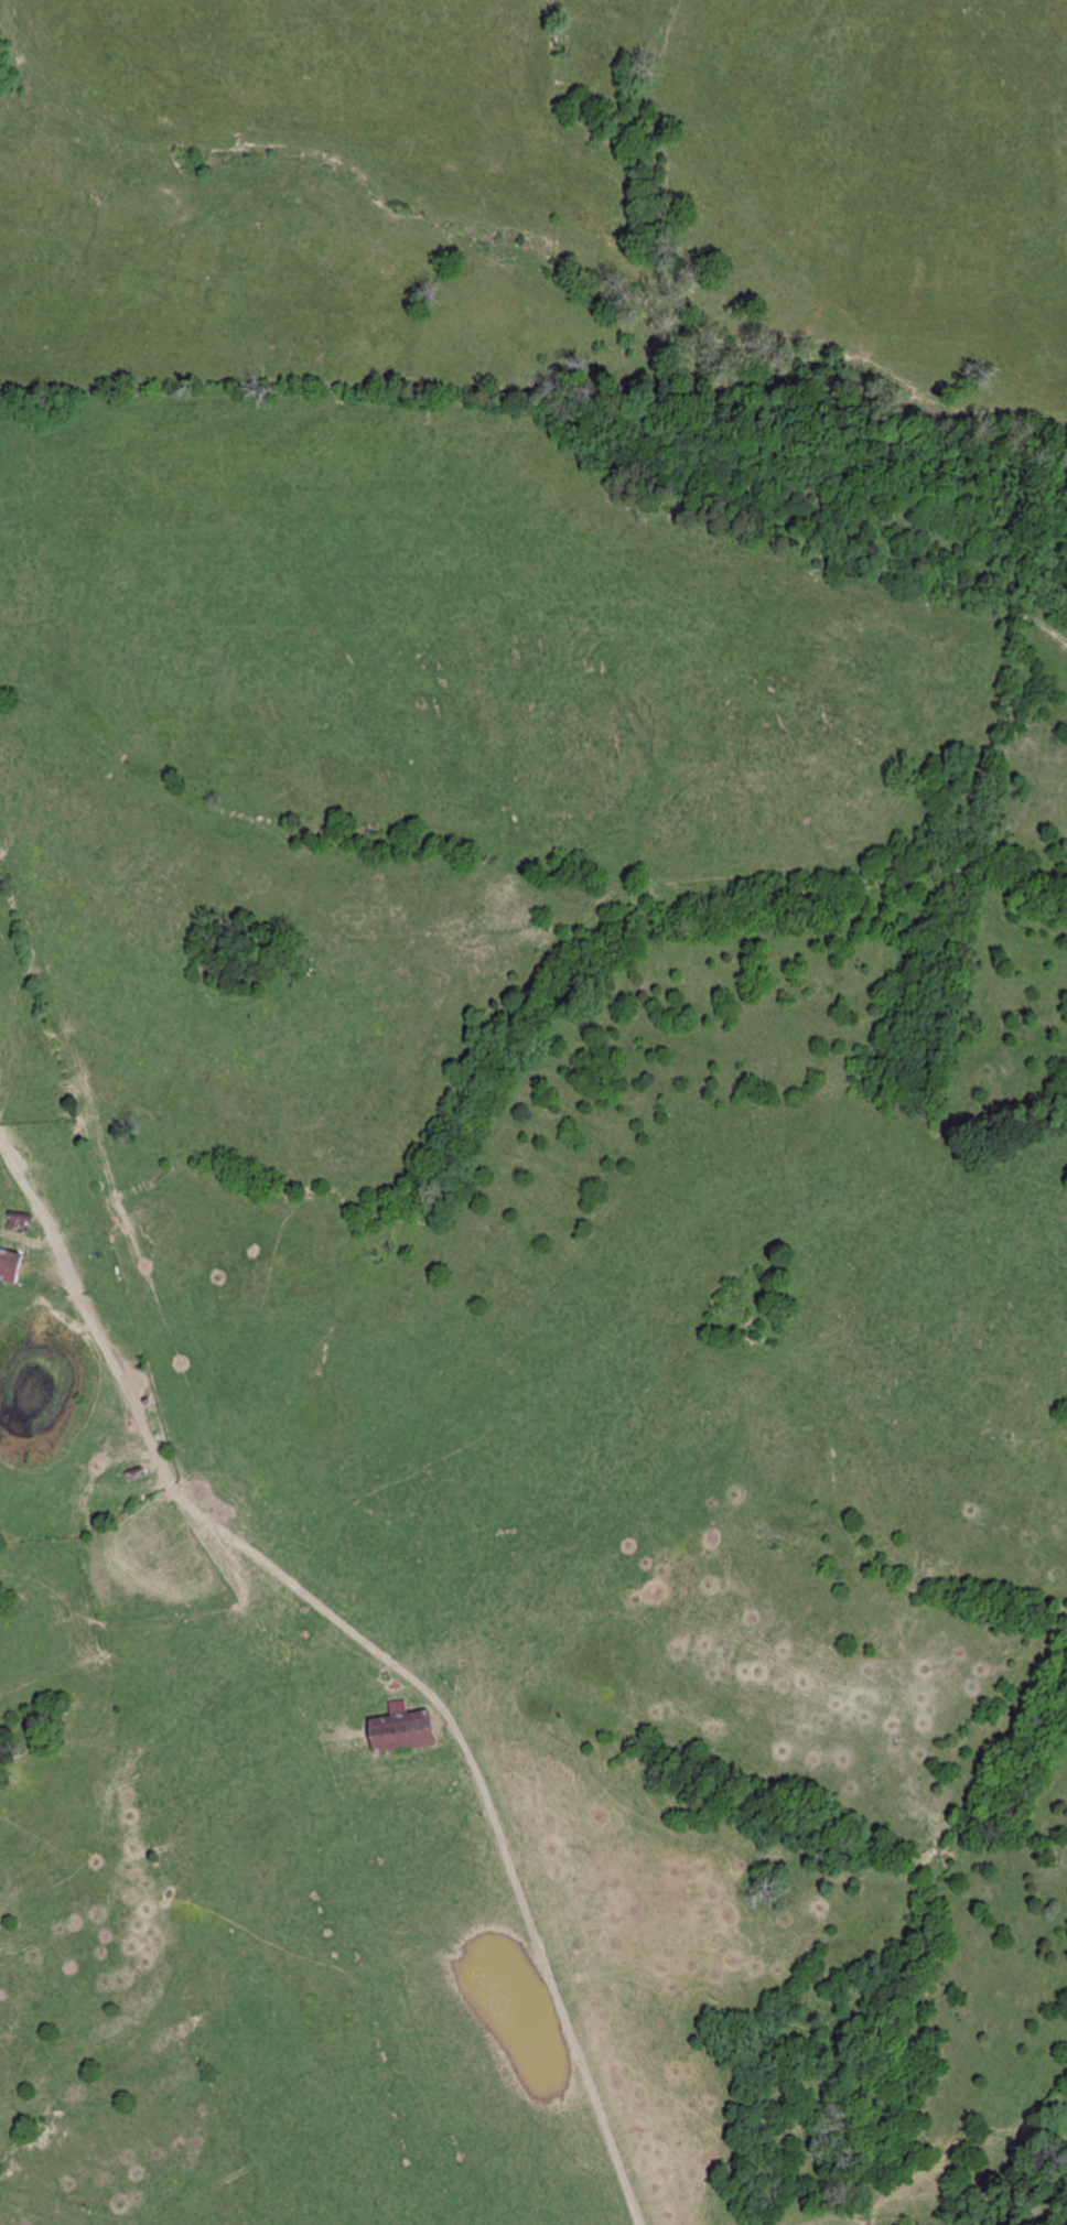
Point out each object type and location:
building: (19, 1223)
building: (10, 1266)
building: (403, 1730)
road: (413, 1735)

